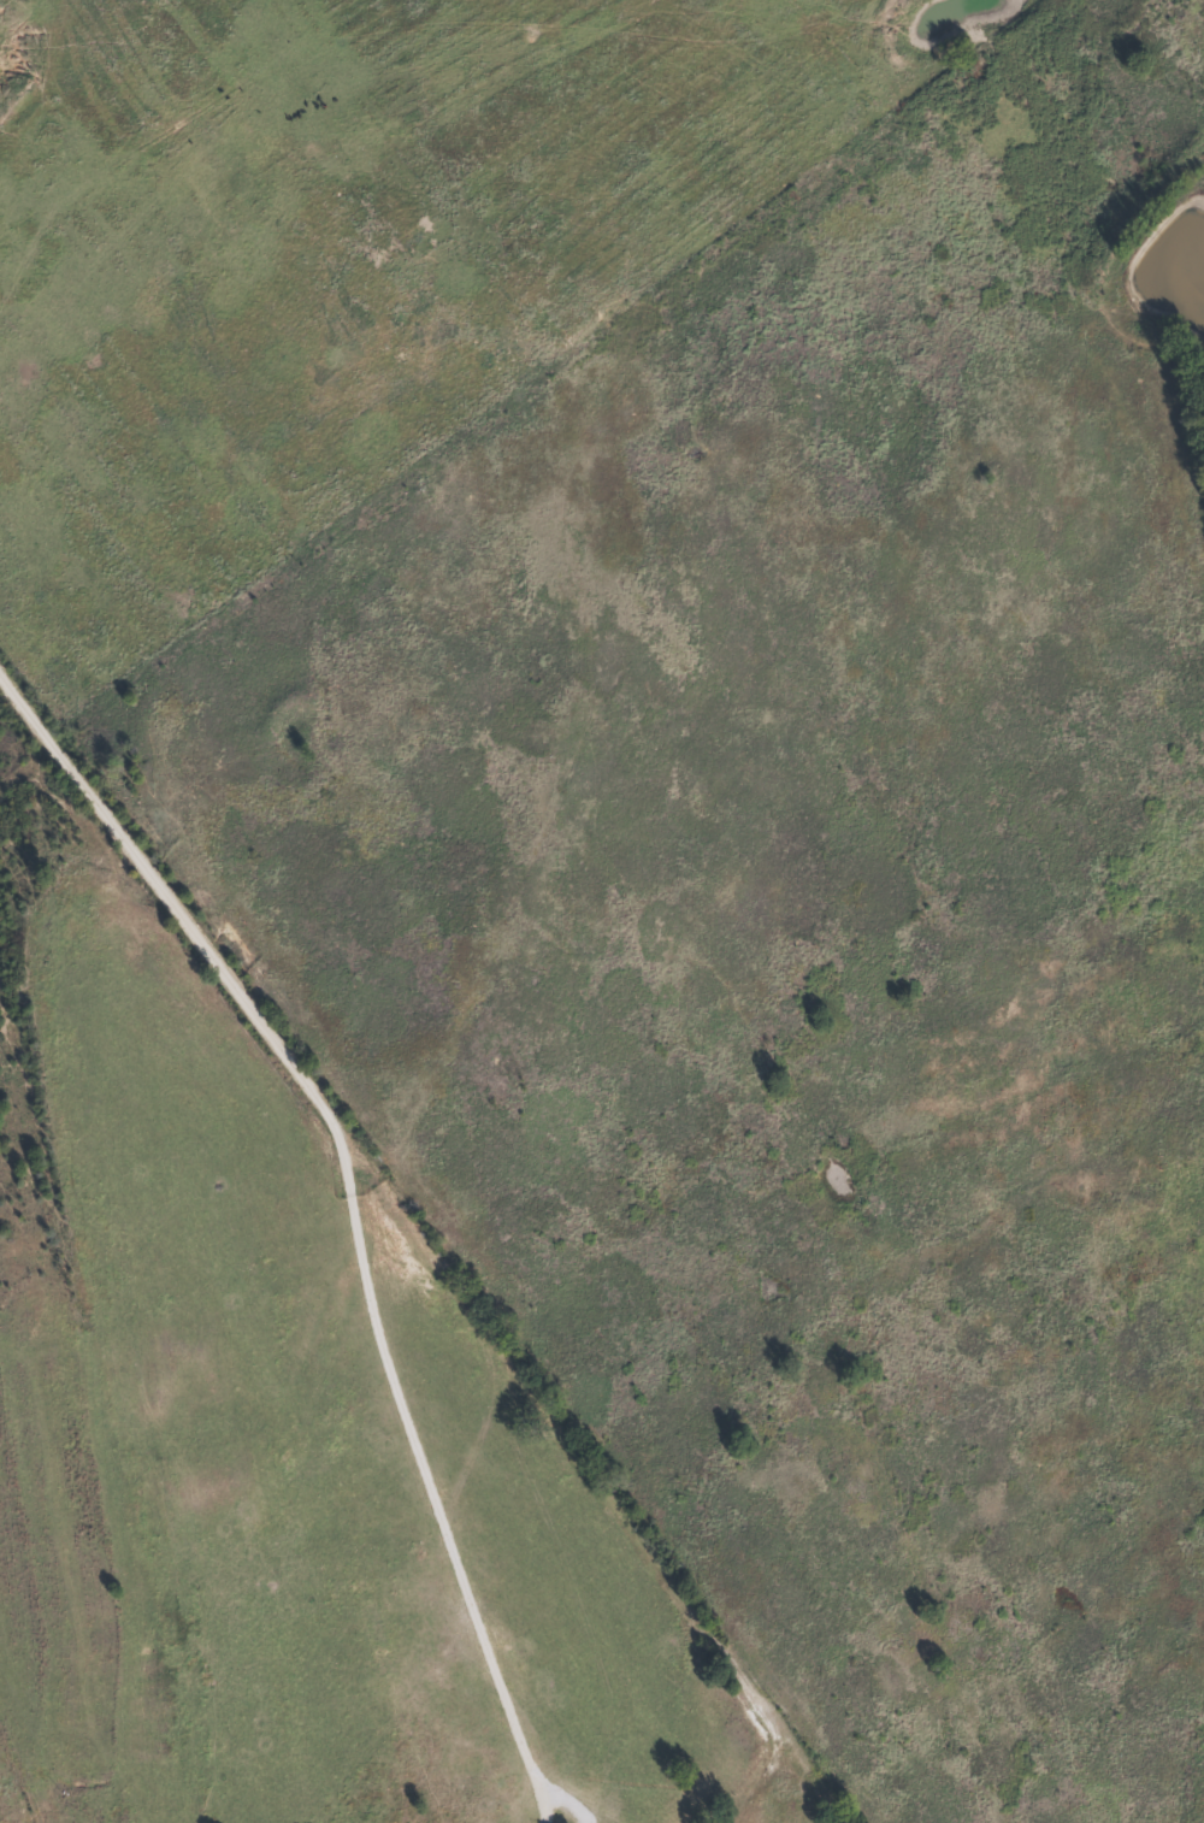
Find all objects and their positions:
road: (183, 927)

